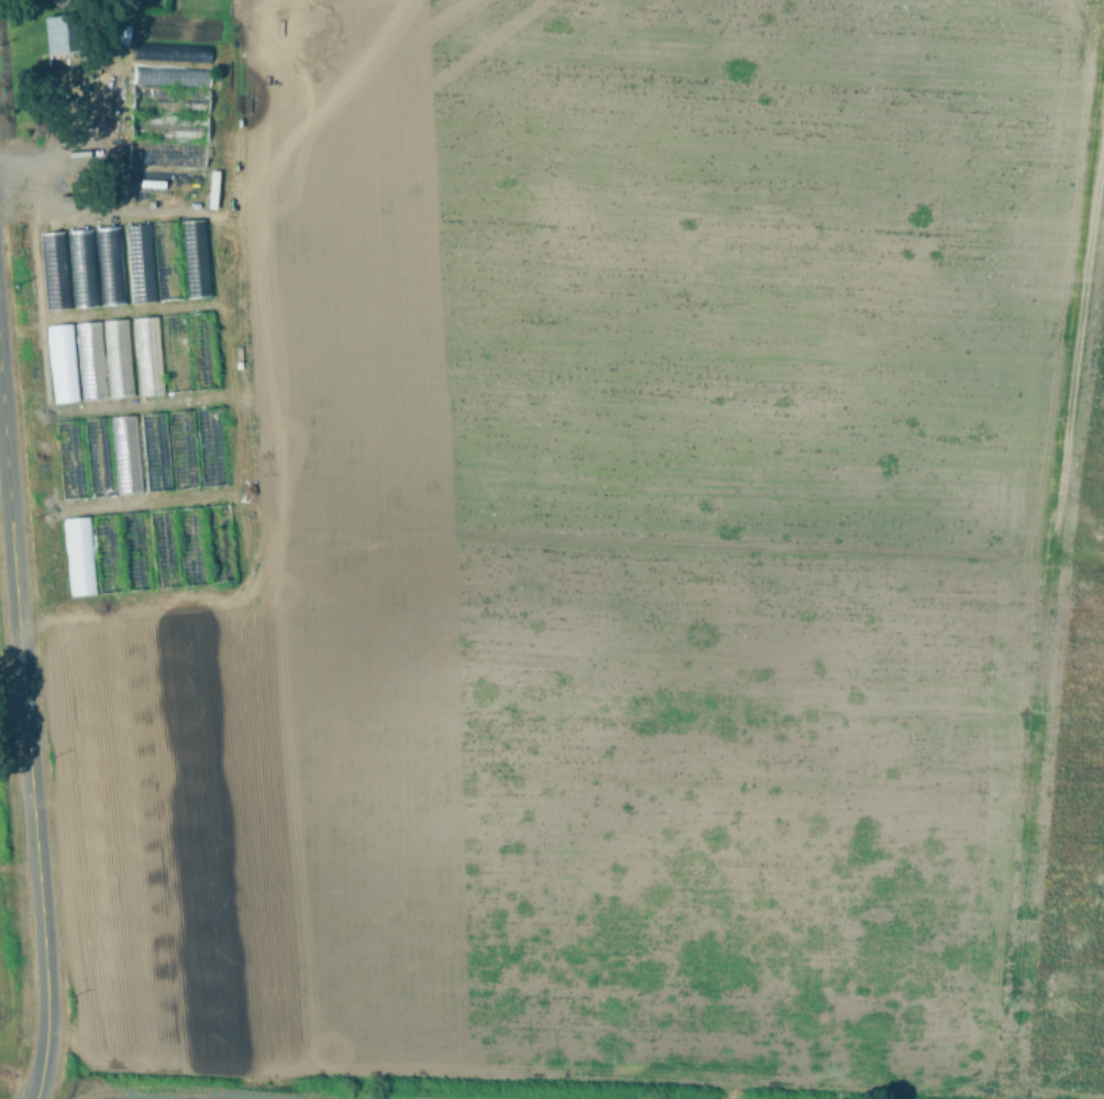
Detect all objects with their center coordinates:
building: (78, 86)
building: (169, 103)
road: (74, 143)
building: (194, 233)
building: (114, 267)
building: (84, 268)
building: (54, 270)
building: (162, 353)
building: (118, 359)
building: (74, 362)
building: (141, 453)
building: (195, 513)
crop: (574, 542)
building: (122, 552)
road: (27, 740)
crop: (7, 975)

